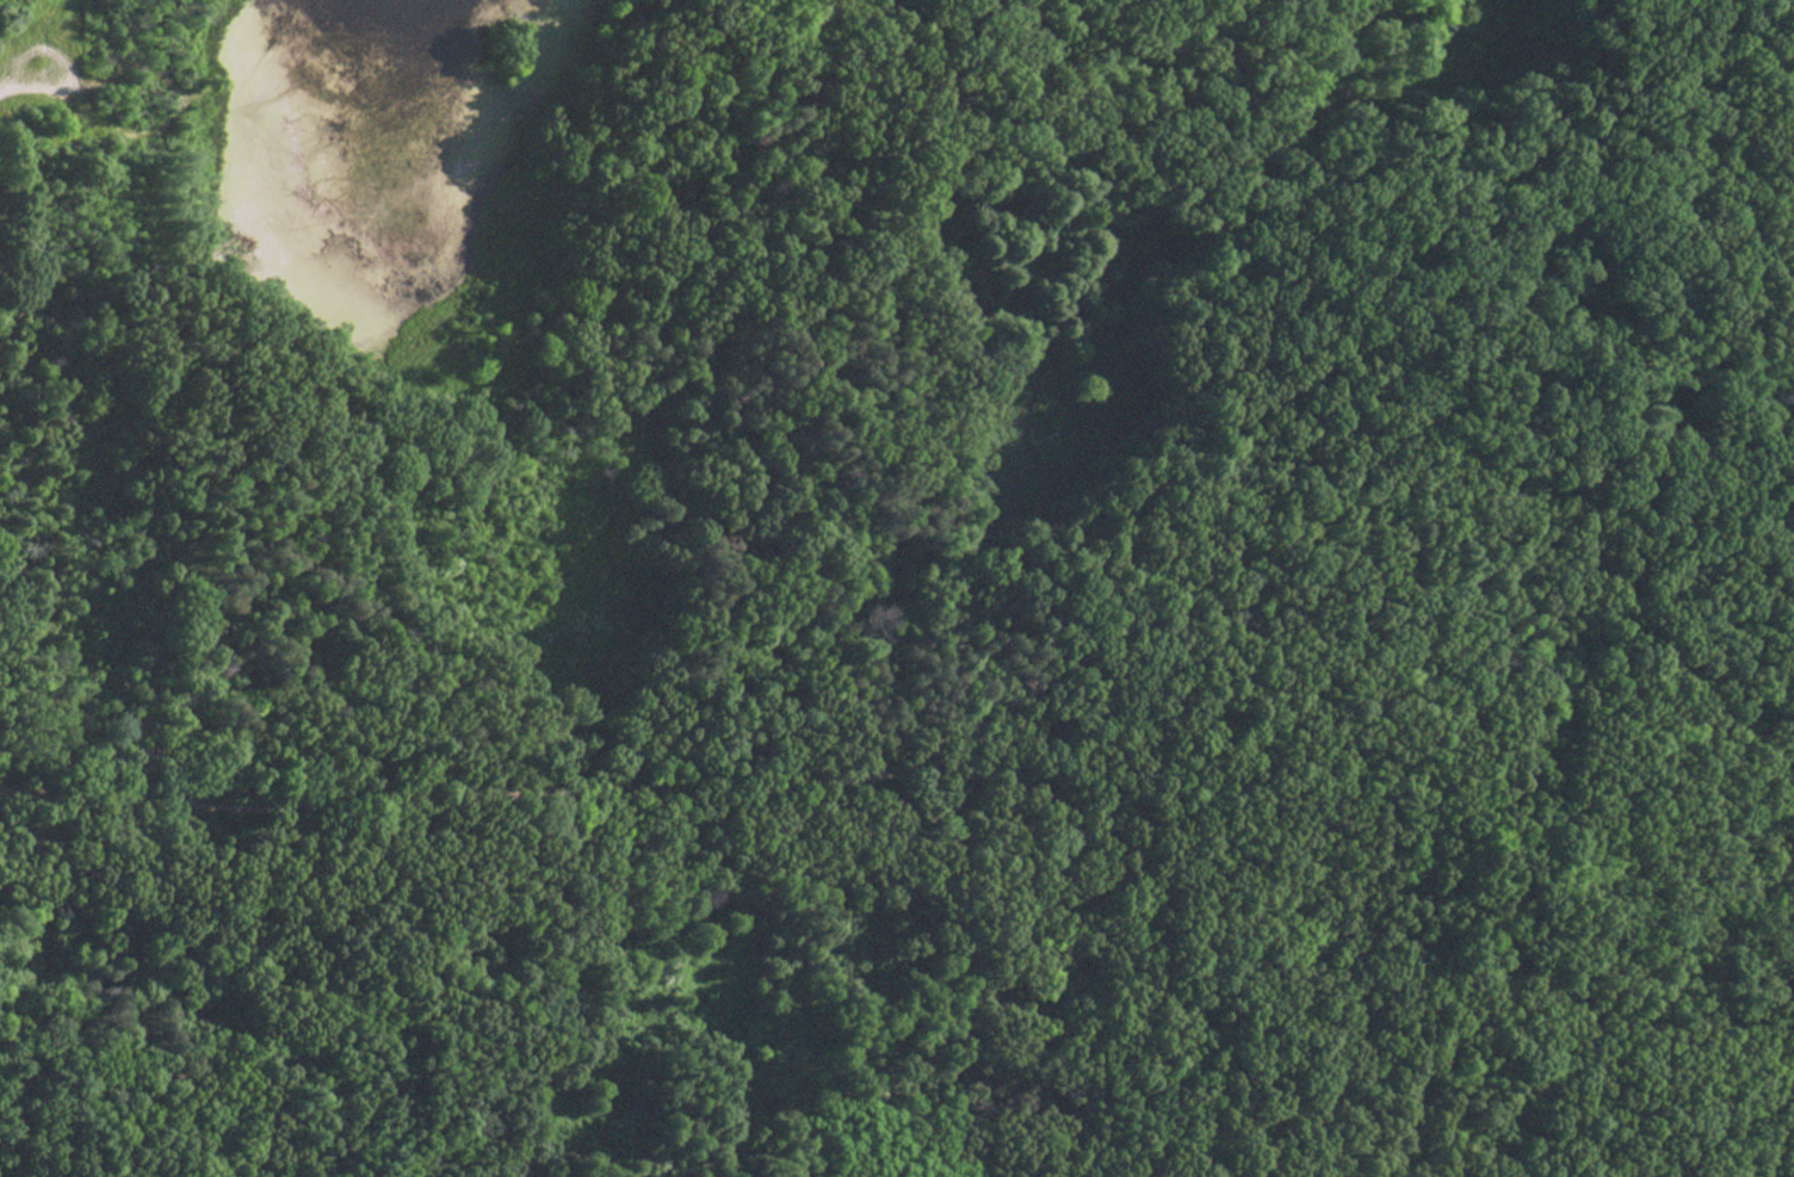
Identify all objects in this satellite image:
road: (82, 120)
road: (1441, 397)
park: (897, 588)
road: (722, 776)

